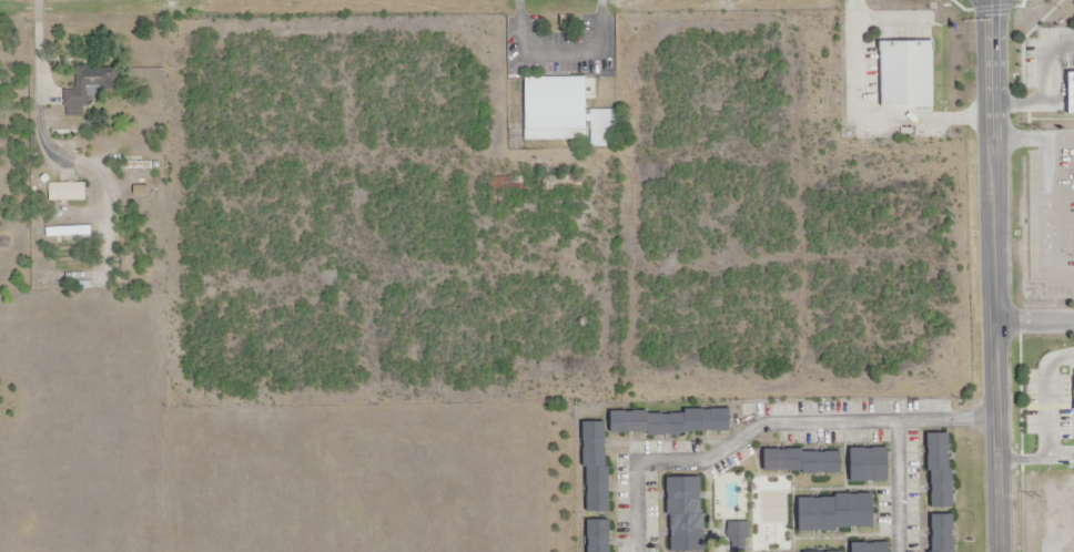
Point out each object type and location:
road: (559, 52)
building: (909, 75)
building: (89, 92)
building: (1071, 93)
building: (560, 112)
power tower: (1037, 129)
building: (67, 192)
building: (65, 232)
road: (992, 276)
road: (1033, 321)
building: (671, 422)
road: (768, 422)
building: (805, 460)
building: (871, 466)
building: (594, 487)
road: (898, 487)
building: (938, 494)
power tower: (1034, 497)
building: (838, 514)
building: (687, 515)
building: (873, 549)

